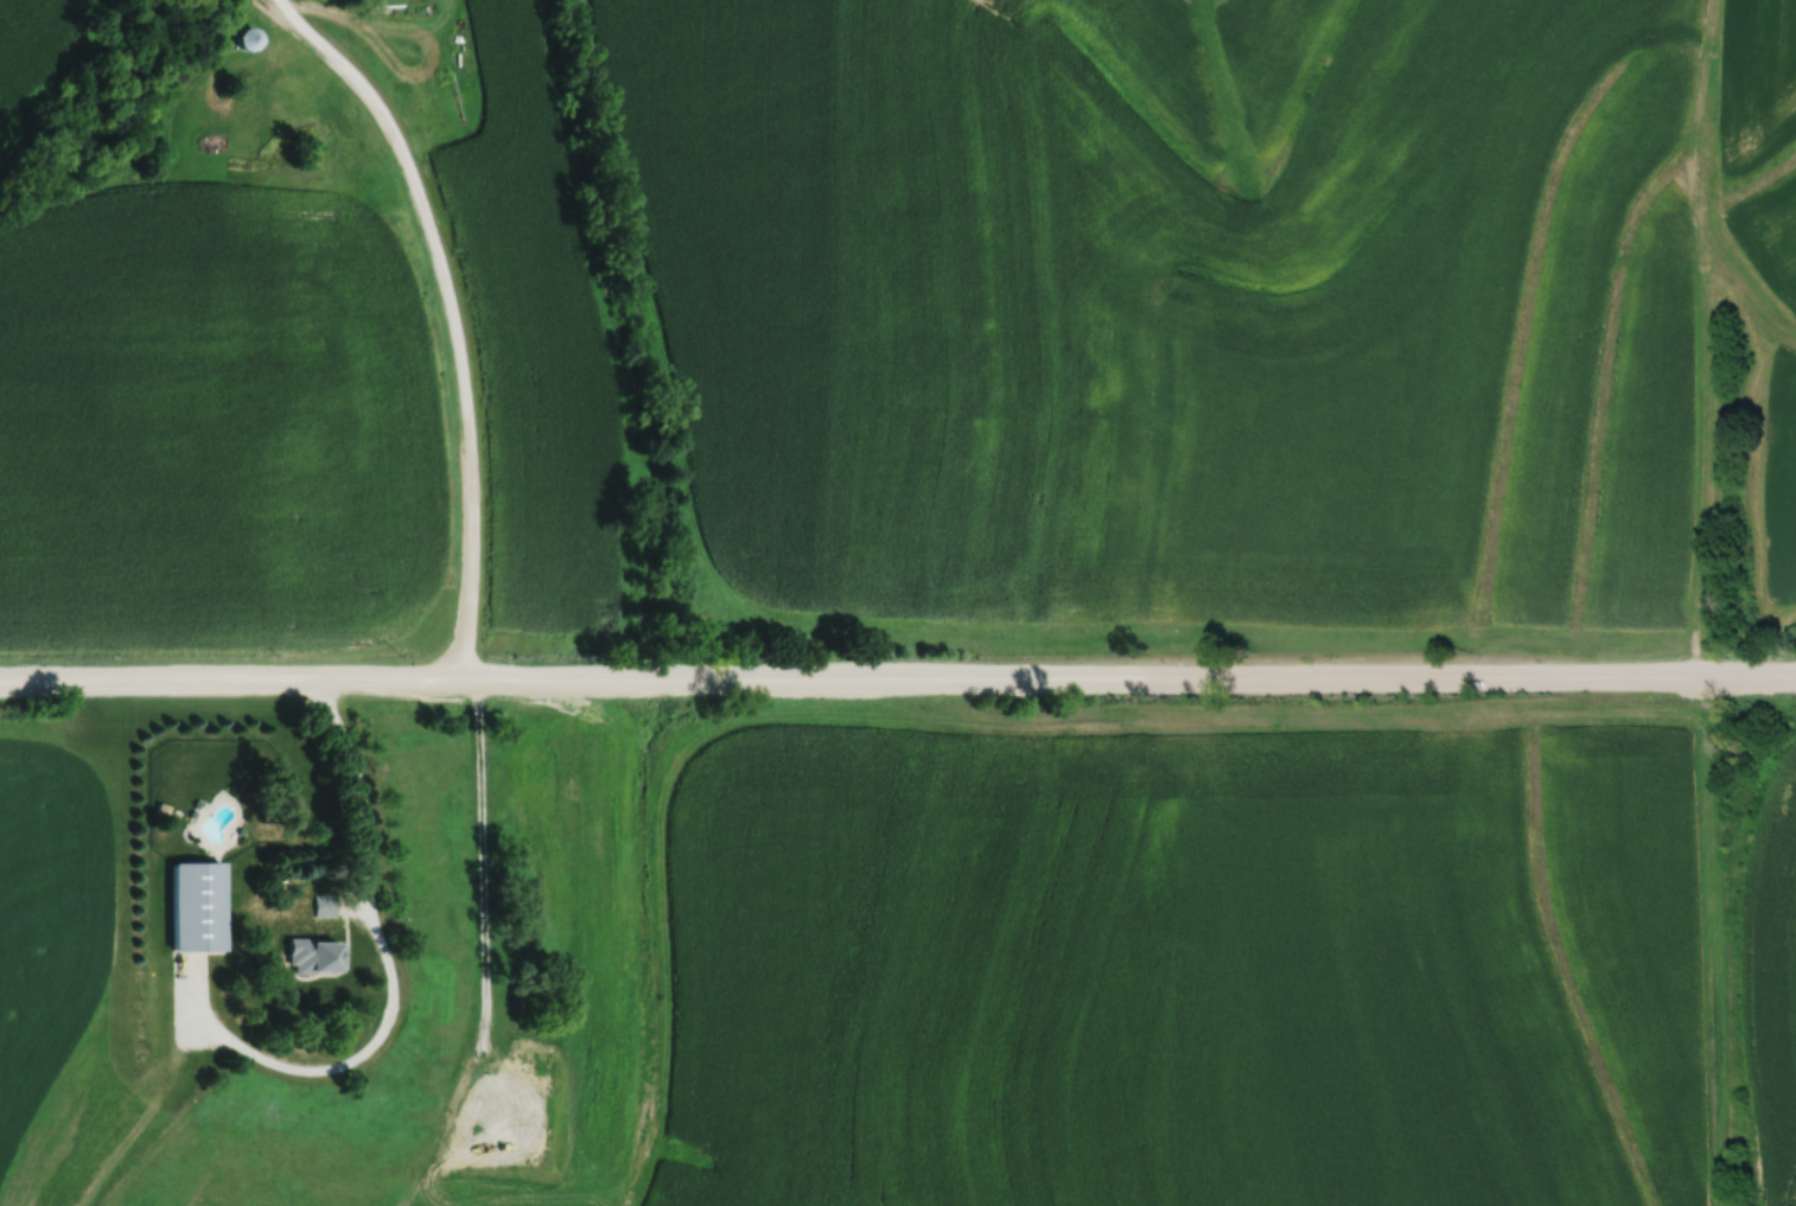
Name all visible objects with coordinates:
building: (244, 38)
road: (454, 311)
road: (897, 676)
road: (361, 787)
road: (484, 851)
building: (323, 905)
building: (193, 906)
building: (311, 956)
building: (485, 1122)

